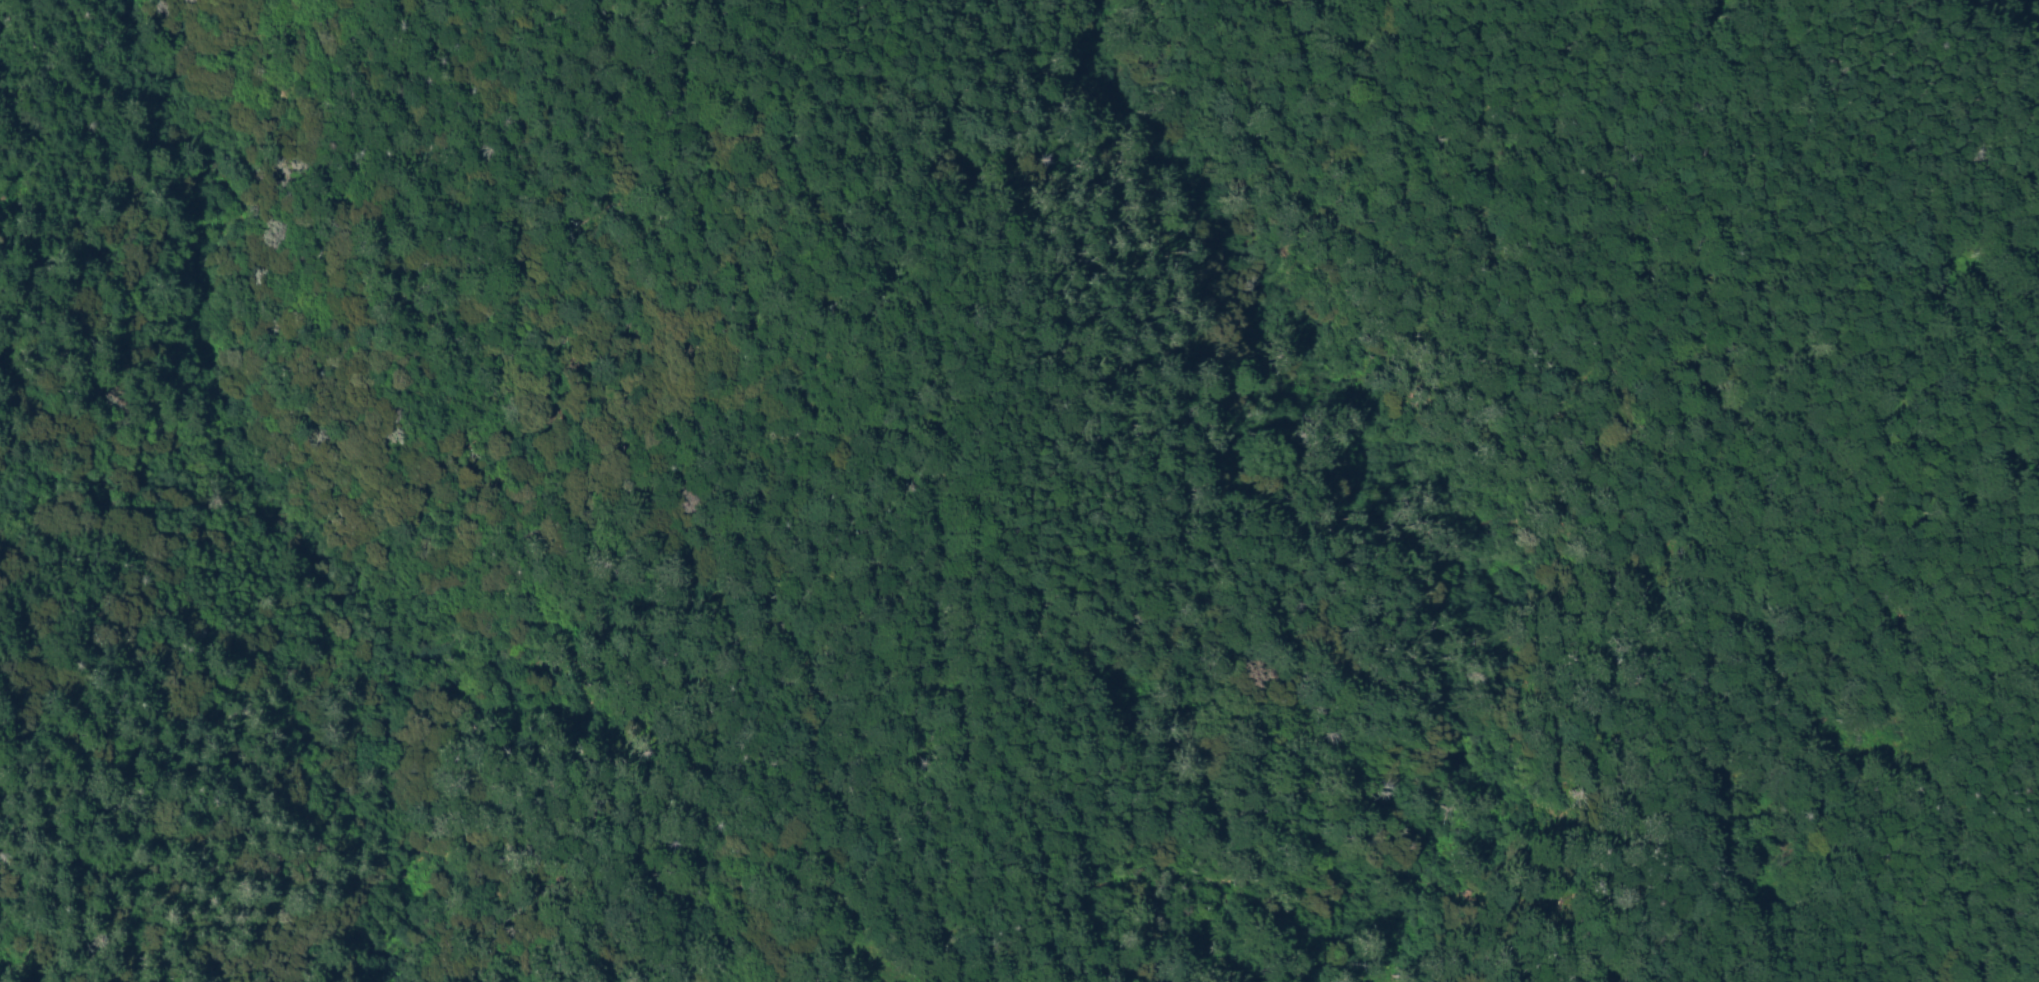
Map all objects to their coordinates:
road: (1898, 215)

